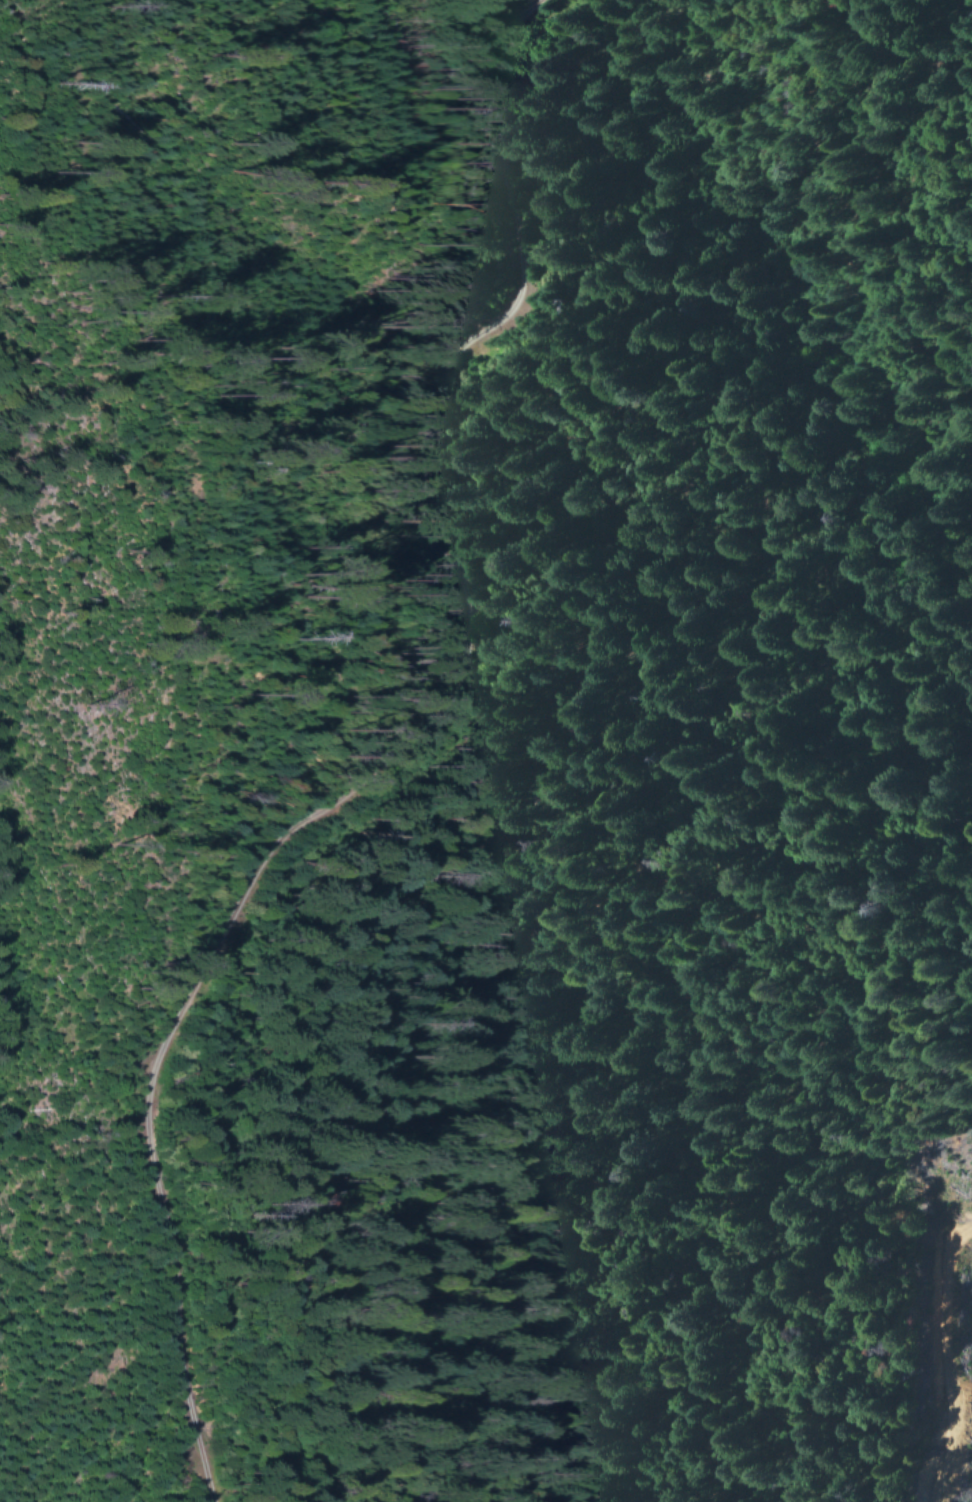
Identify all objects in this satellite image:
road: (410, 746)
road: (206, 1489)

